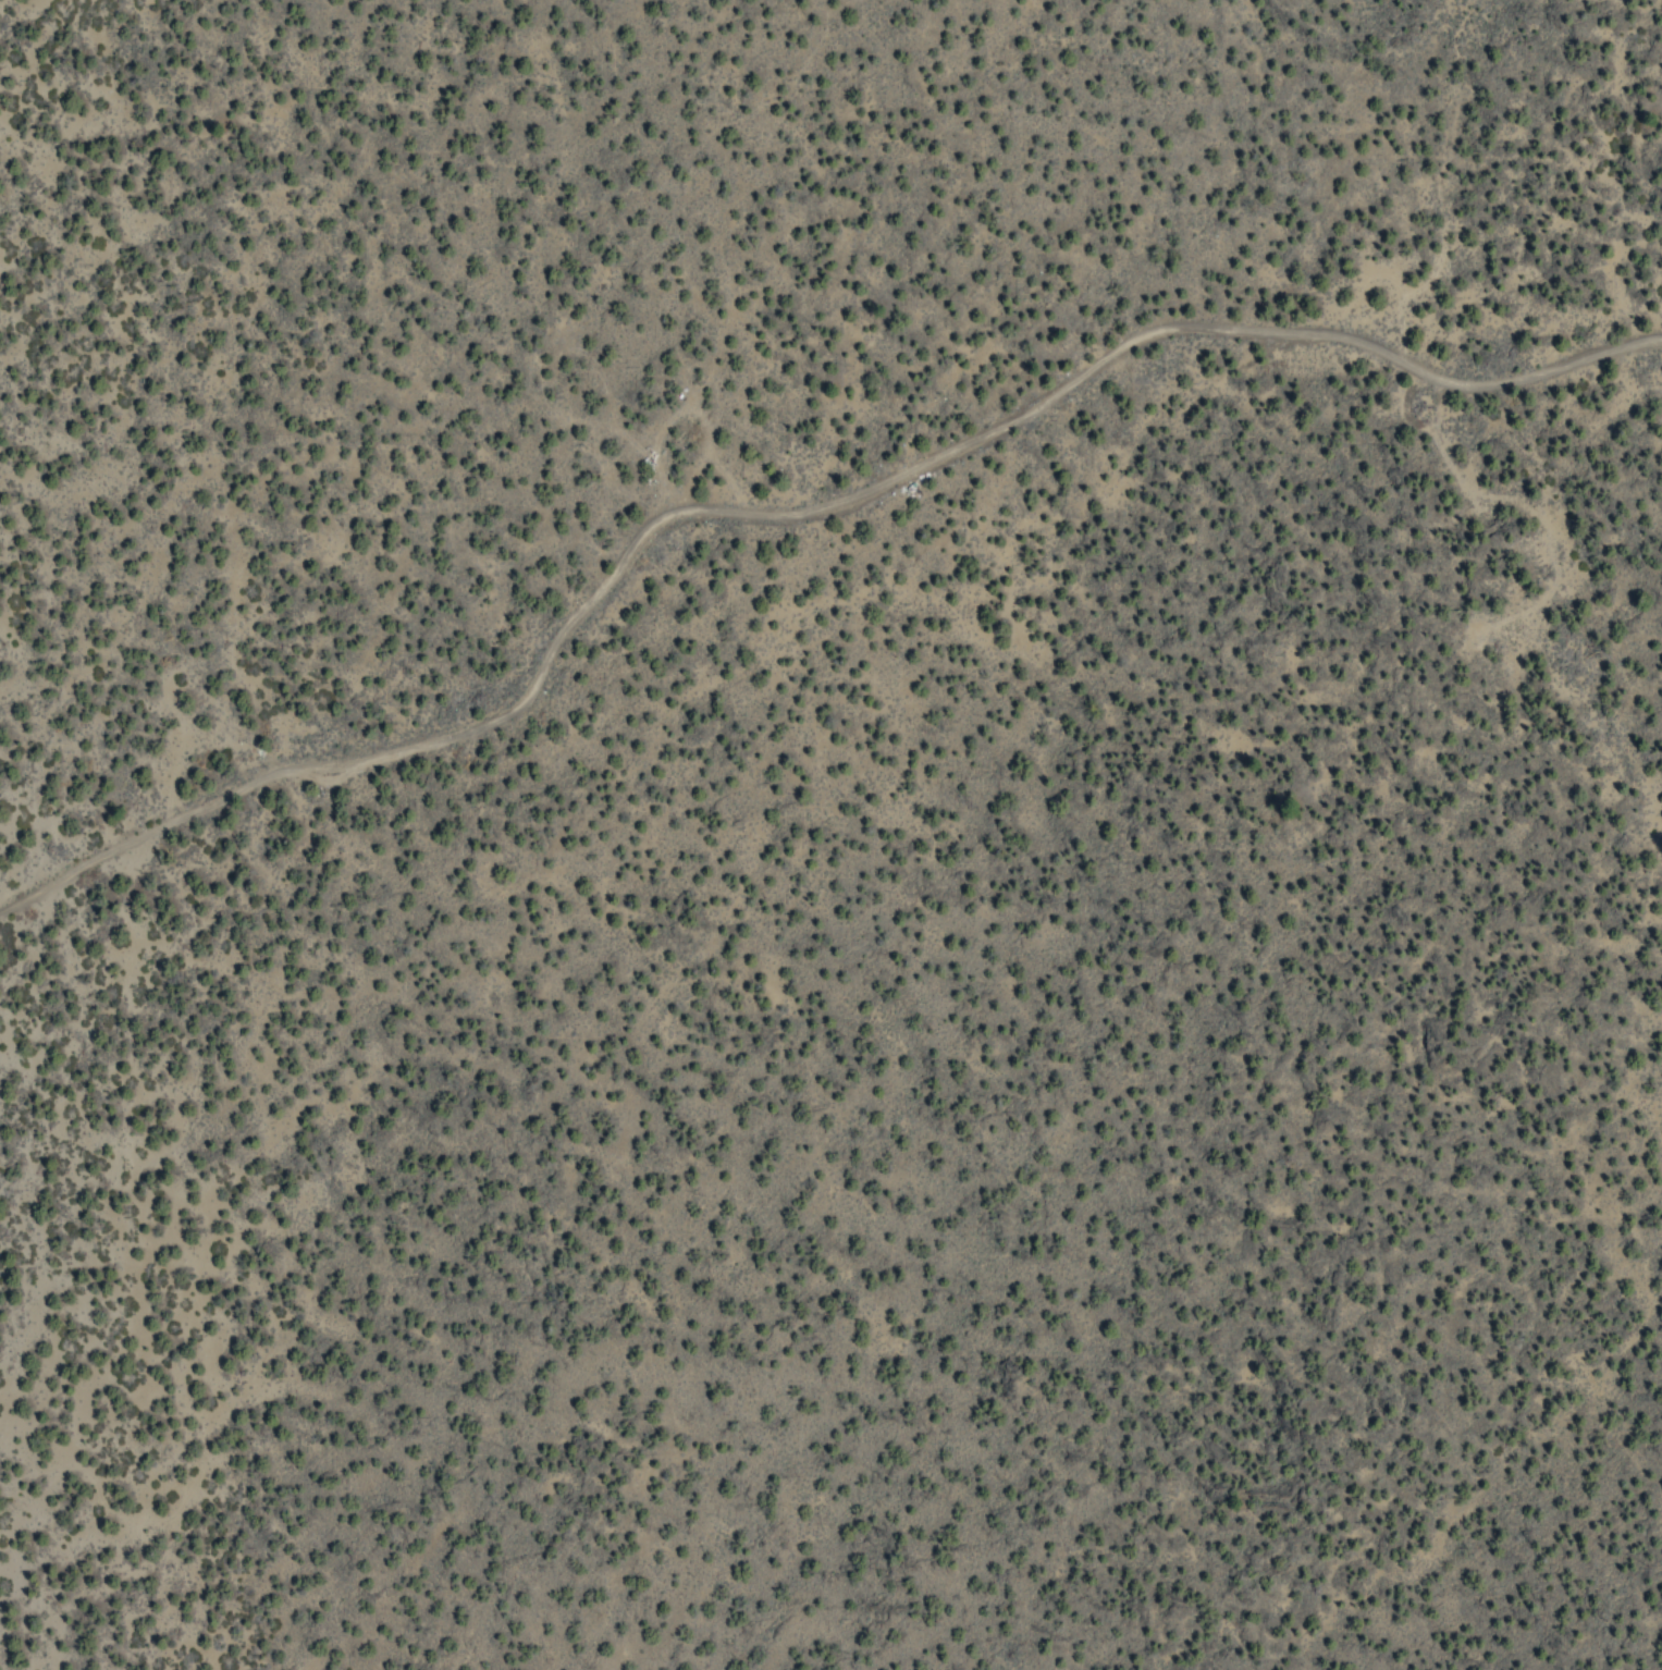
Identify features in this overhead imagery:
road: (792, 509)

